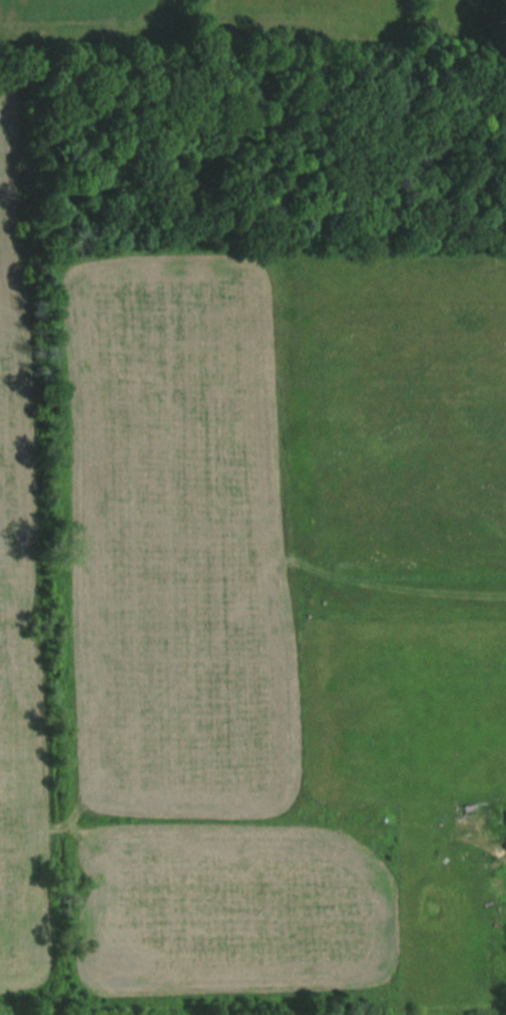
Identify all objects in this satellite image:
building: (470, 812)

